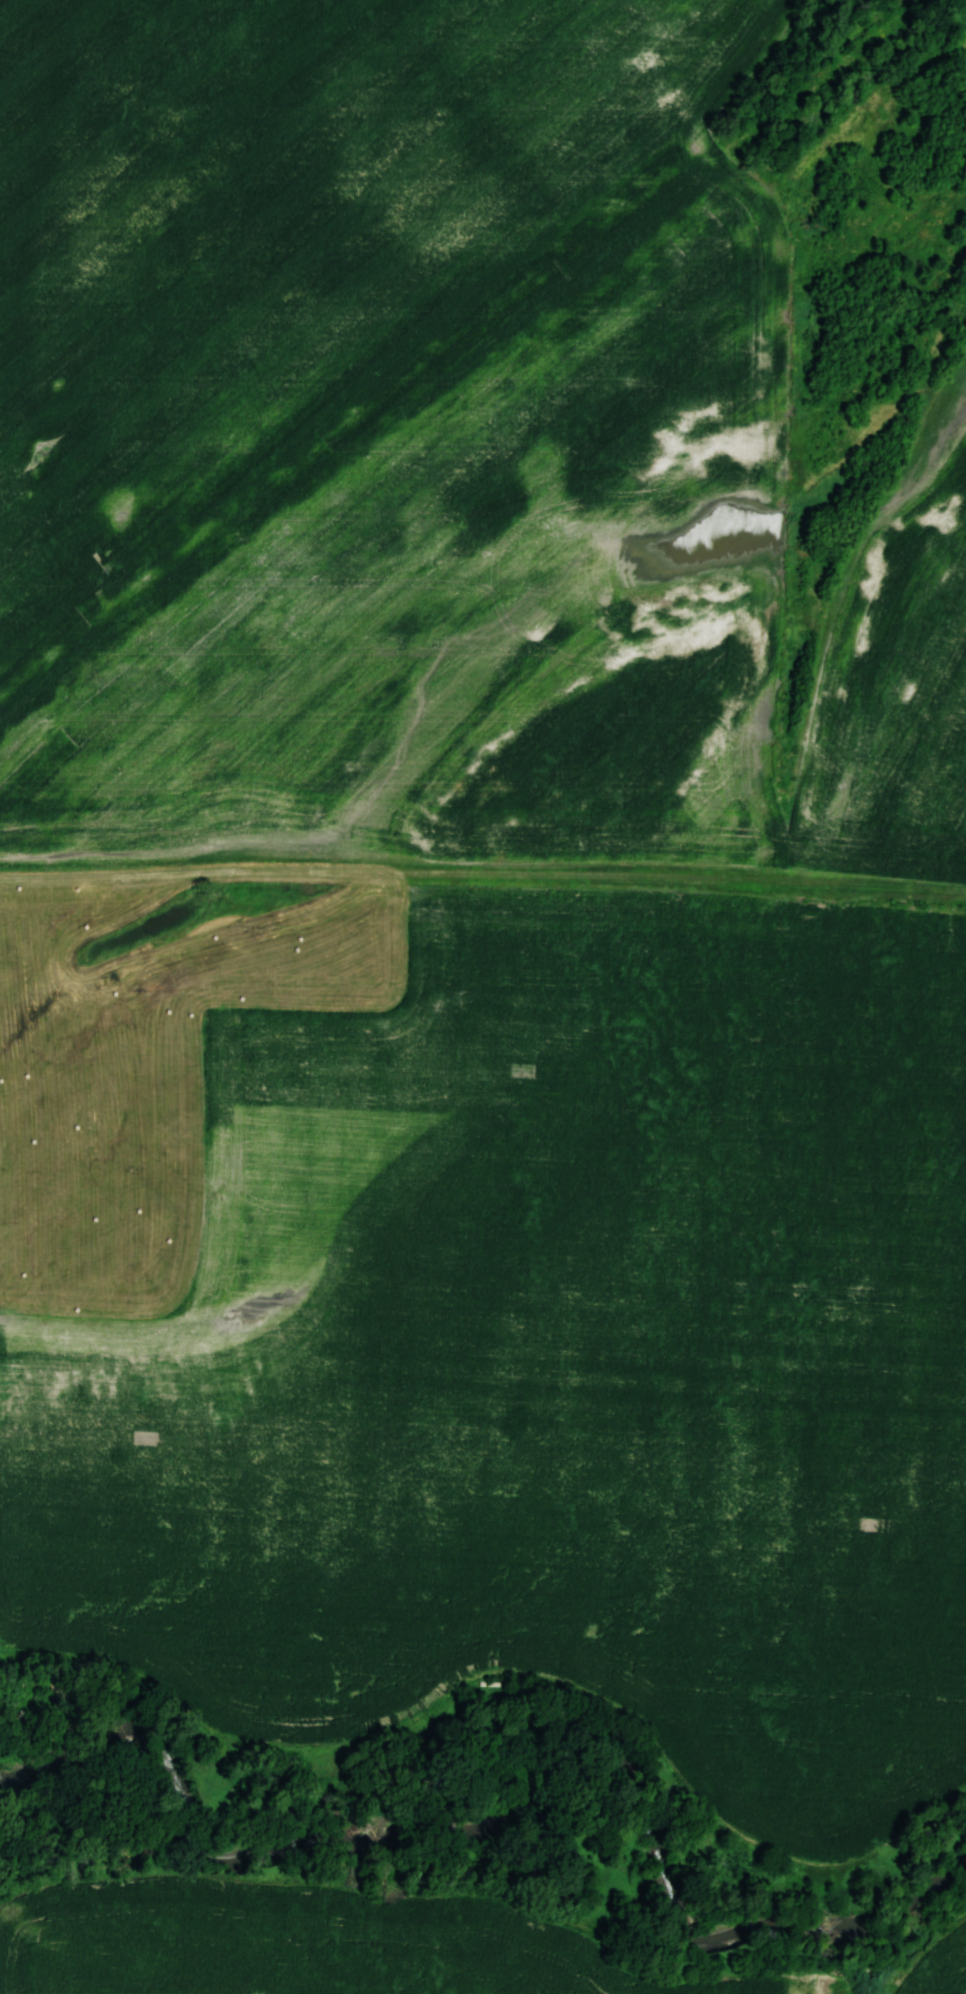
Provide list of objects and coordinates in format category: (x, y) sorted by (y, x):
river: (518, 1813)

